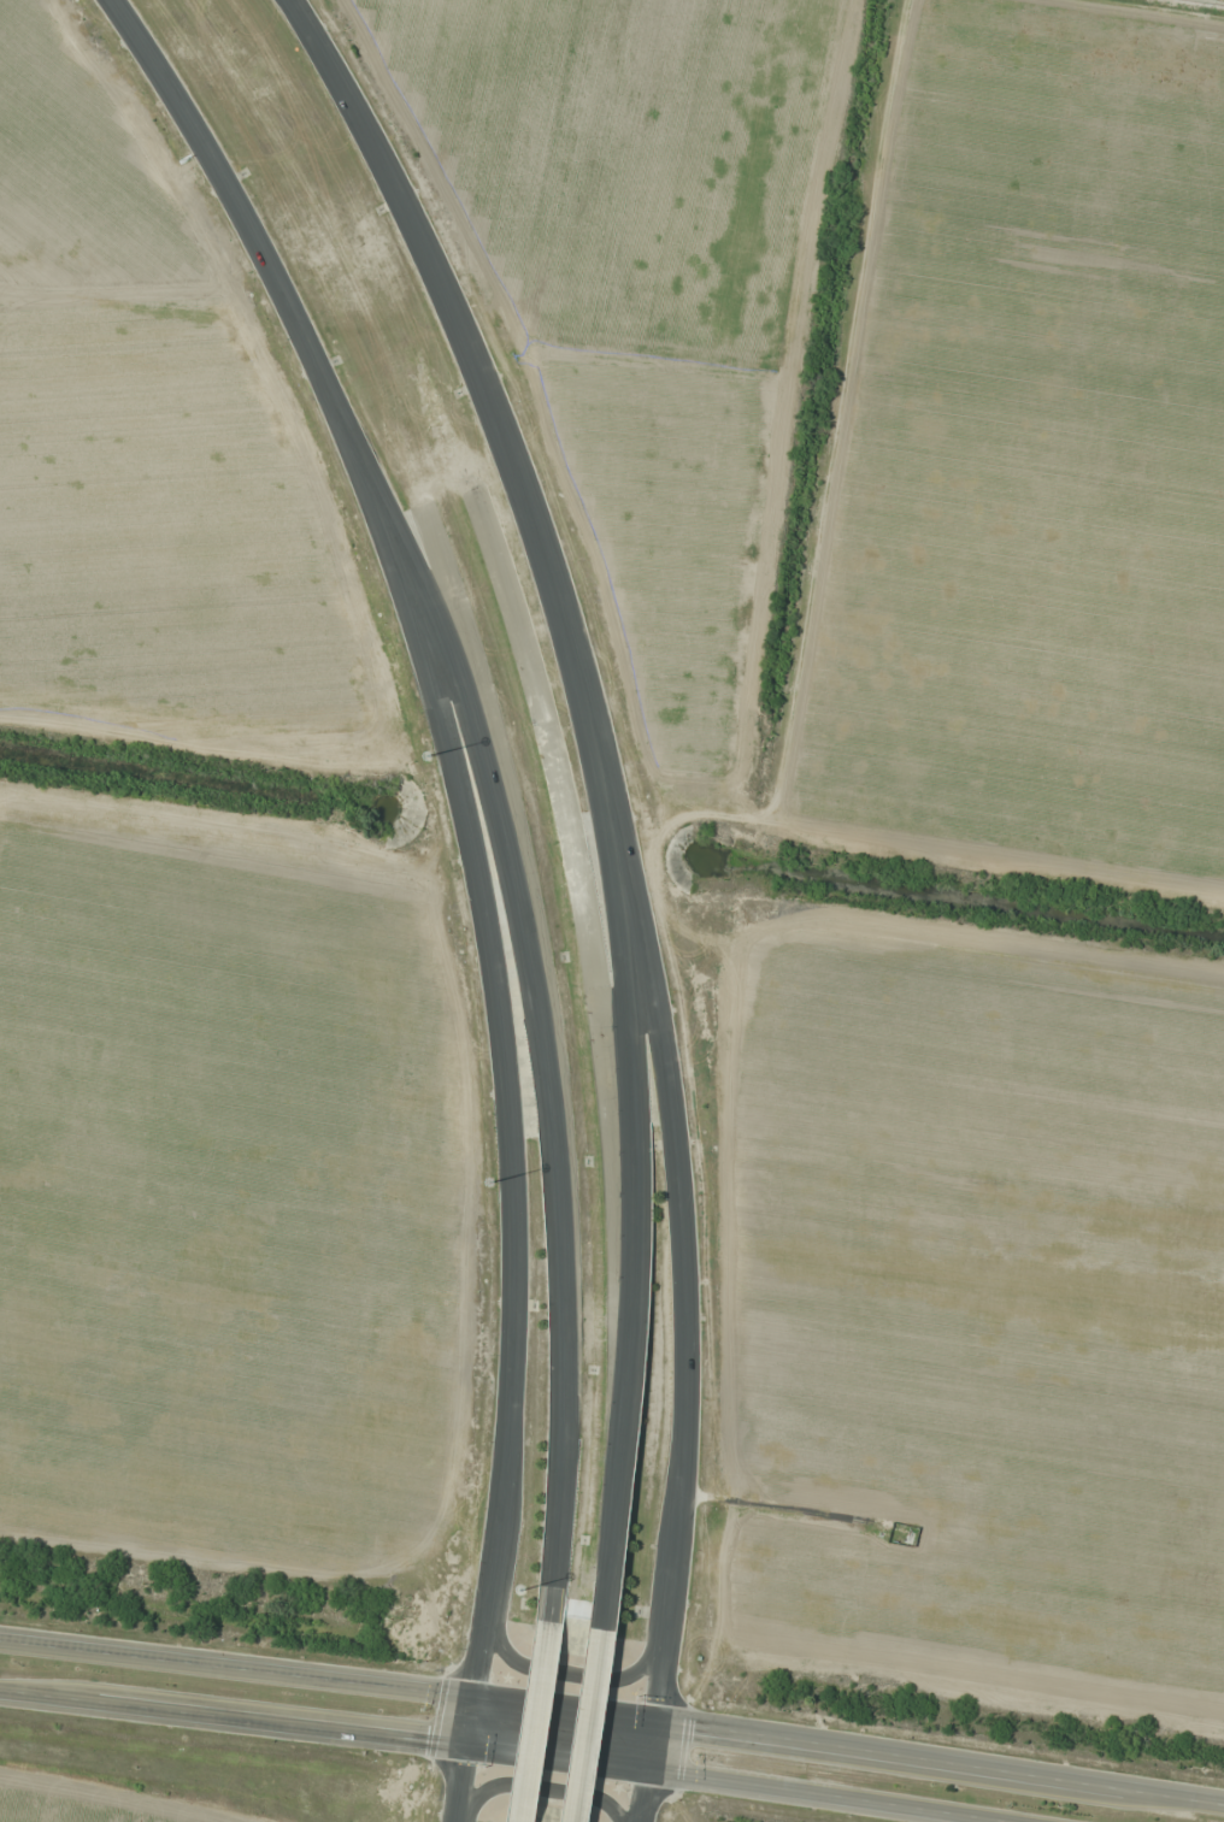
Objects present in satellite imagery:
road: (896, 125)
road: (245, 224)
road: (420, 254)
road: (534, 990)
road: (628, 1034)
road: (508, 1133)
road: (676, 1163)
road: (572, 1674)
road: (540, 1687)
road: (590, 1688)
traffic signals: (470, 1699)
road: (612, 1715)
traffic signals: (654, 1720)
traffic signals: (464, 1746)
road: (505, 1751)
traffic signals: (647, 1771)
road: (537, 1786)

